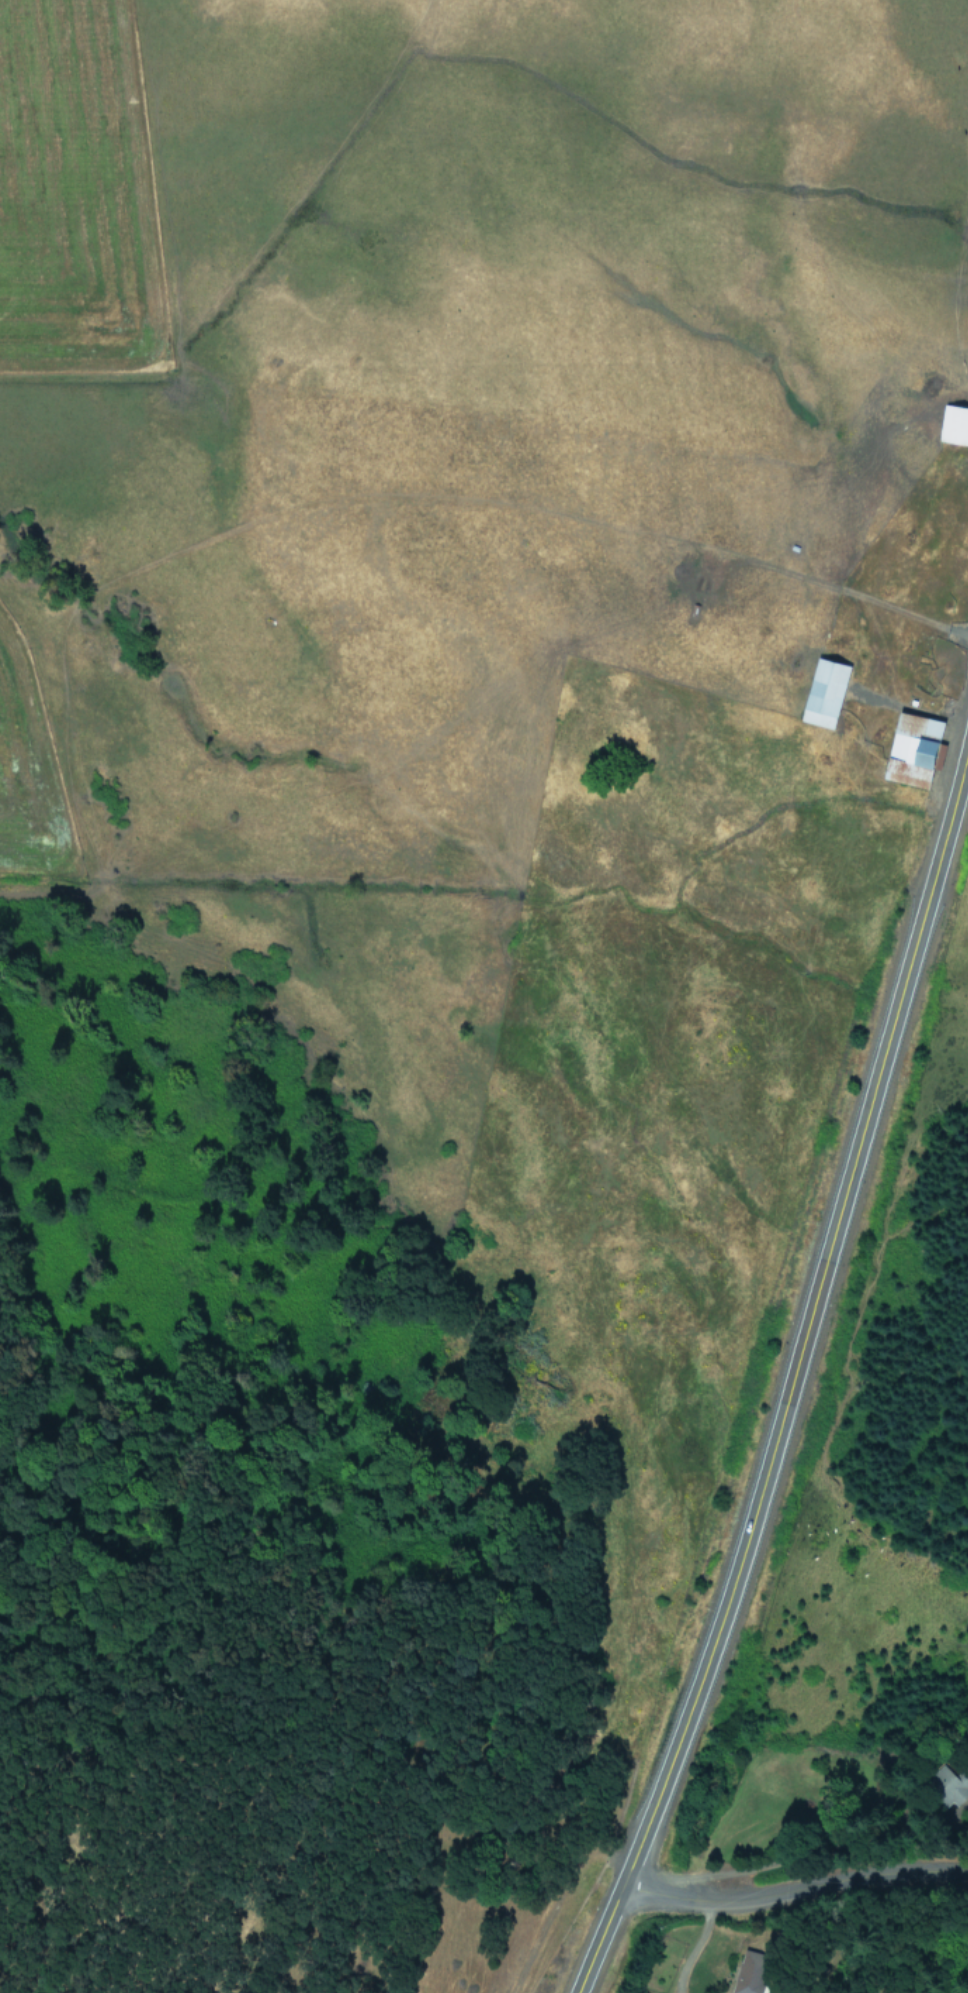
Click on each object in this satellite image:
building: (955, 423)
crop: (492, 579)
building: (825, 692)
building: (916, 749)
road: (790, 1363)
road: (865, 1373)
building: (951, 1783)
road: (806, 1853)
road: (790, 1893)
road: (693, 1948)
building: (746, 1972)

